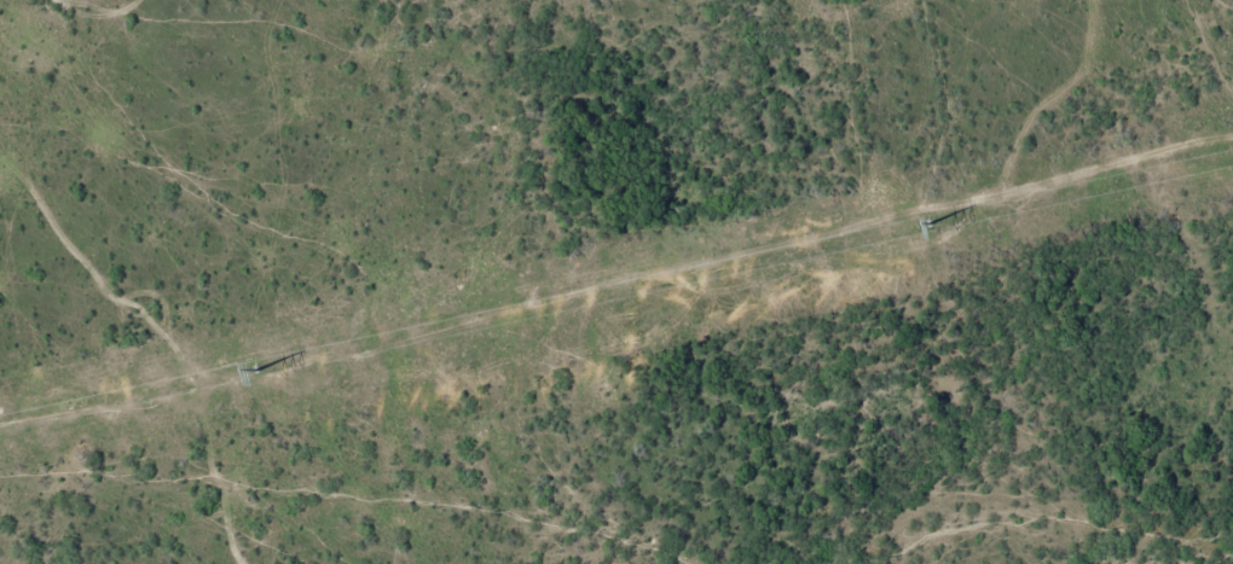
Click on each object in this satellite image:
power tower: (927, 222)
power tower: (259, 367)

